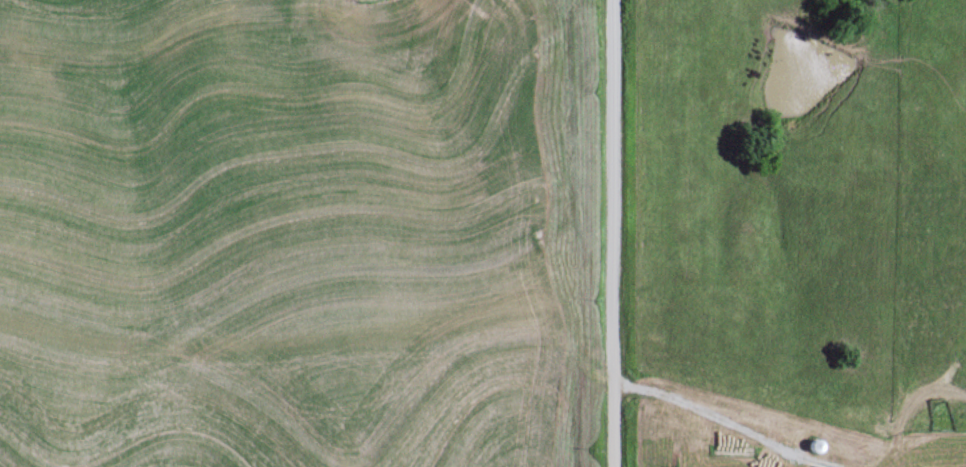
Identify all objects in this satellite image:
road: (617, 233)

